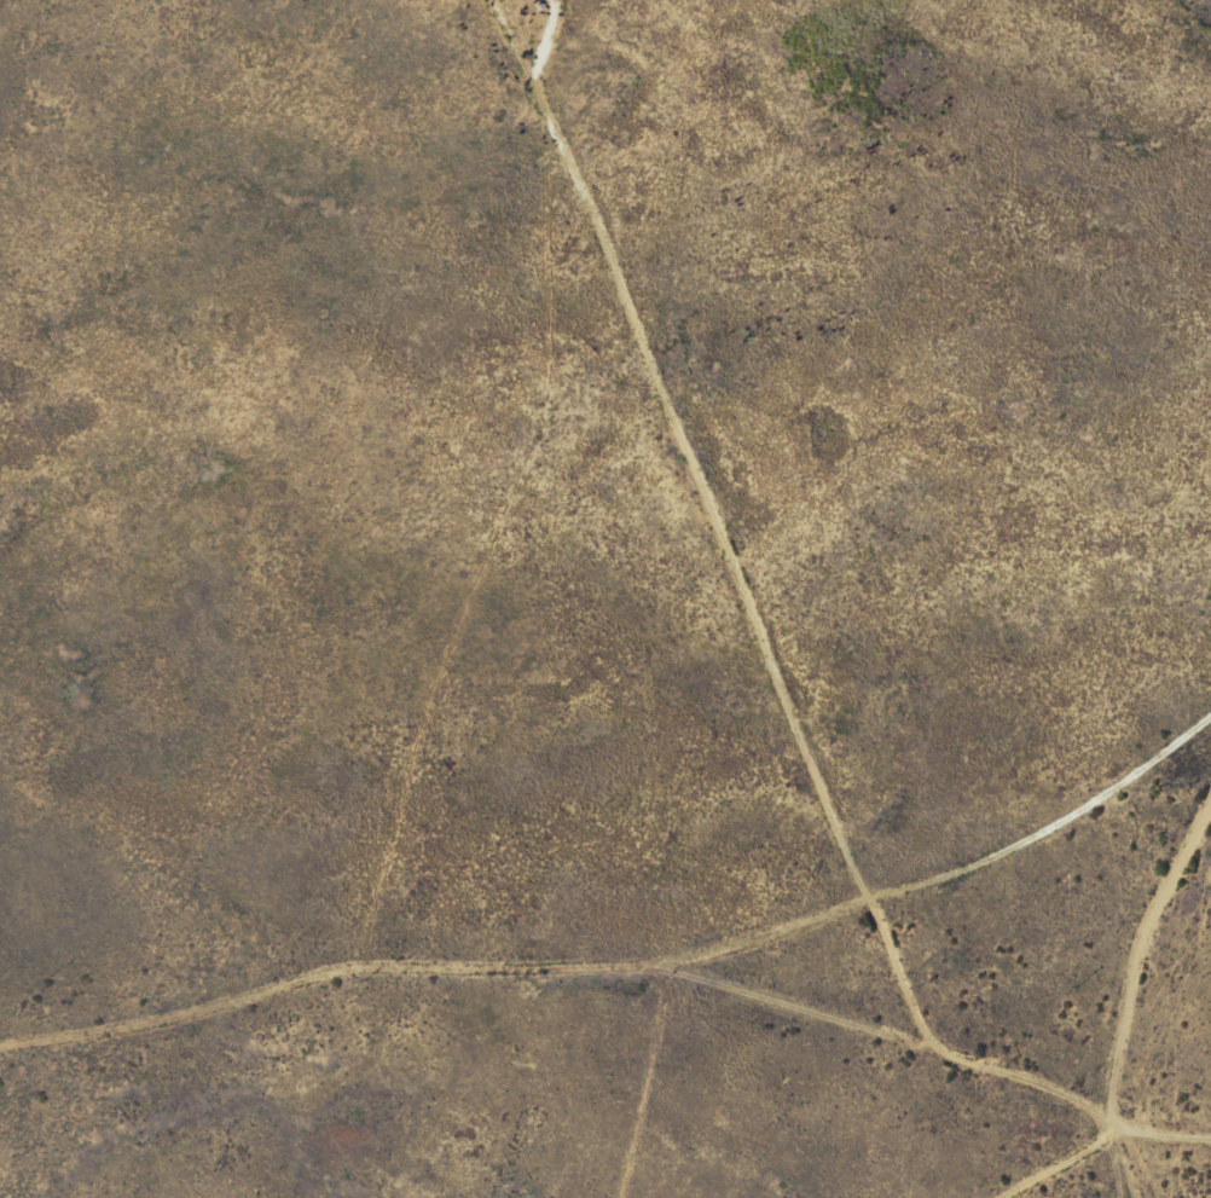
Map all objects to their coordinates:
road: (1128, 1023)

